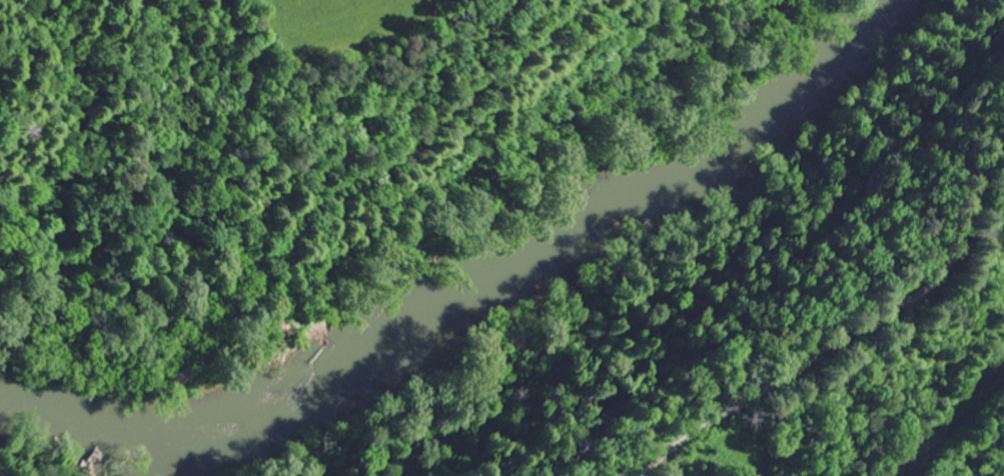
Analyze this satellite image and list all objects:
river: (479, 298)
road: (877, 365)

